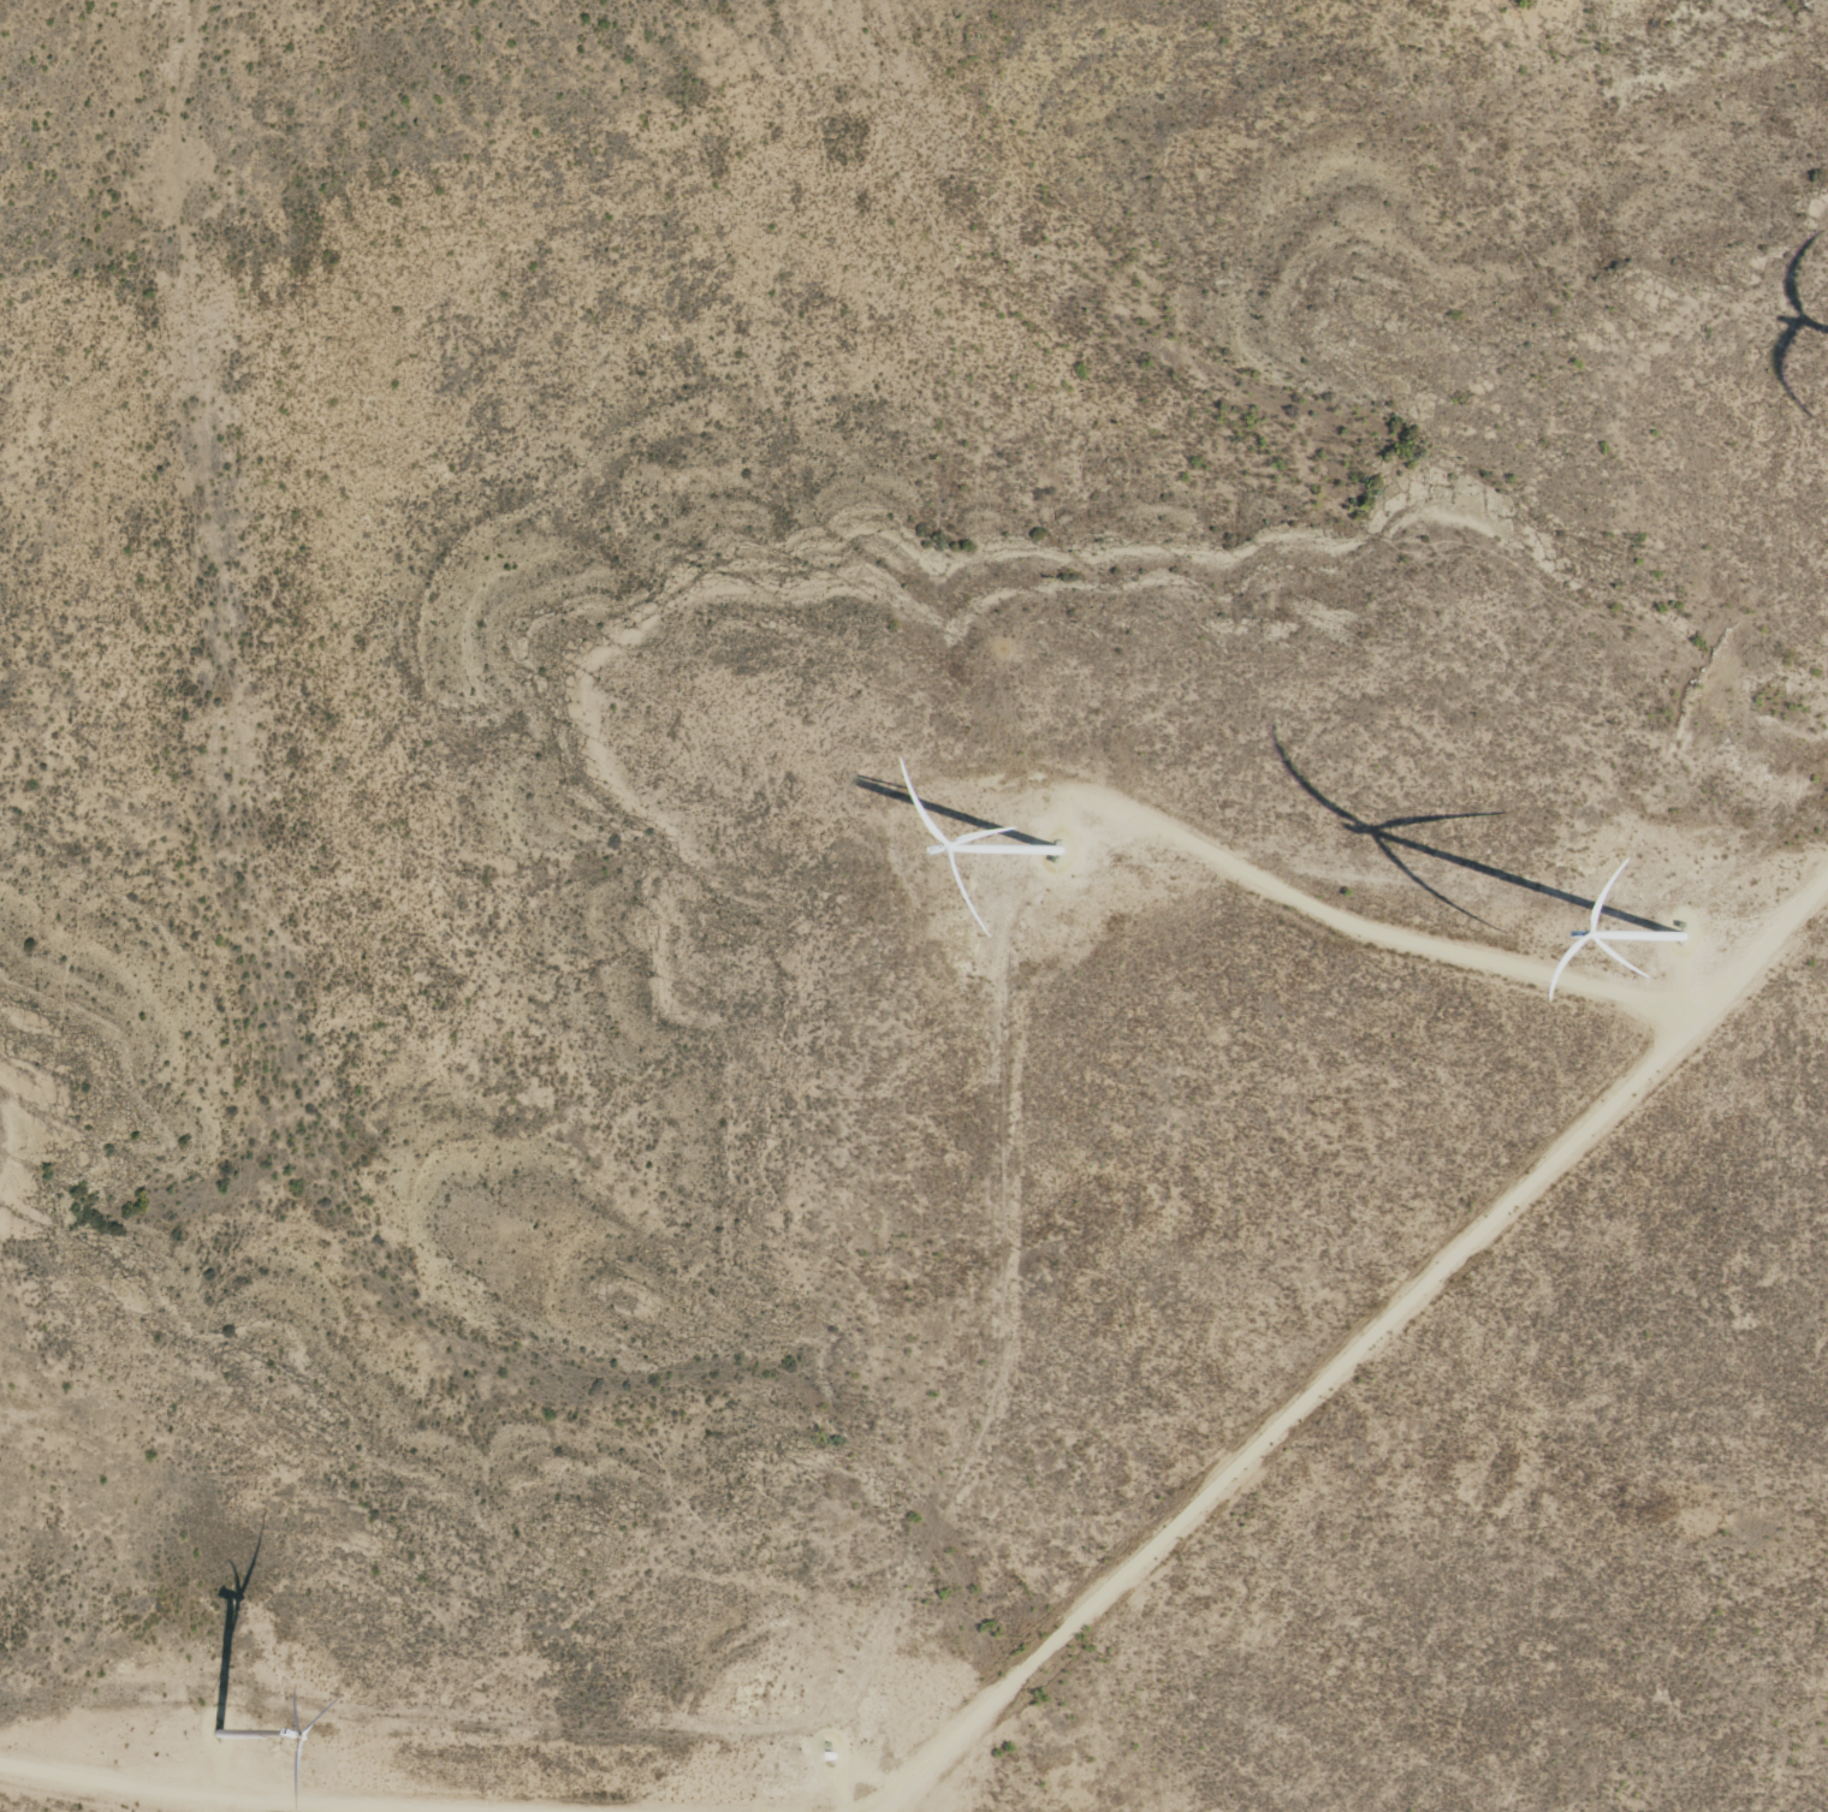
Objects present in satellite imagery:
wind turbine: (1066, 840)
wind turbine: (1676, 923)
wind turbine: (215, 1730)
wind turbine: (826, 1746)

